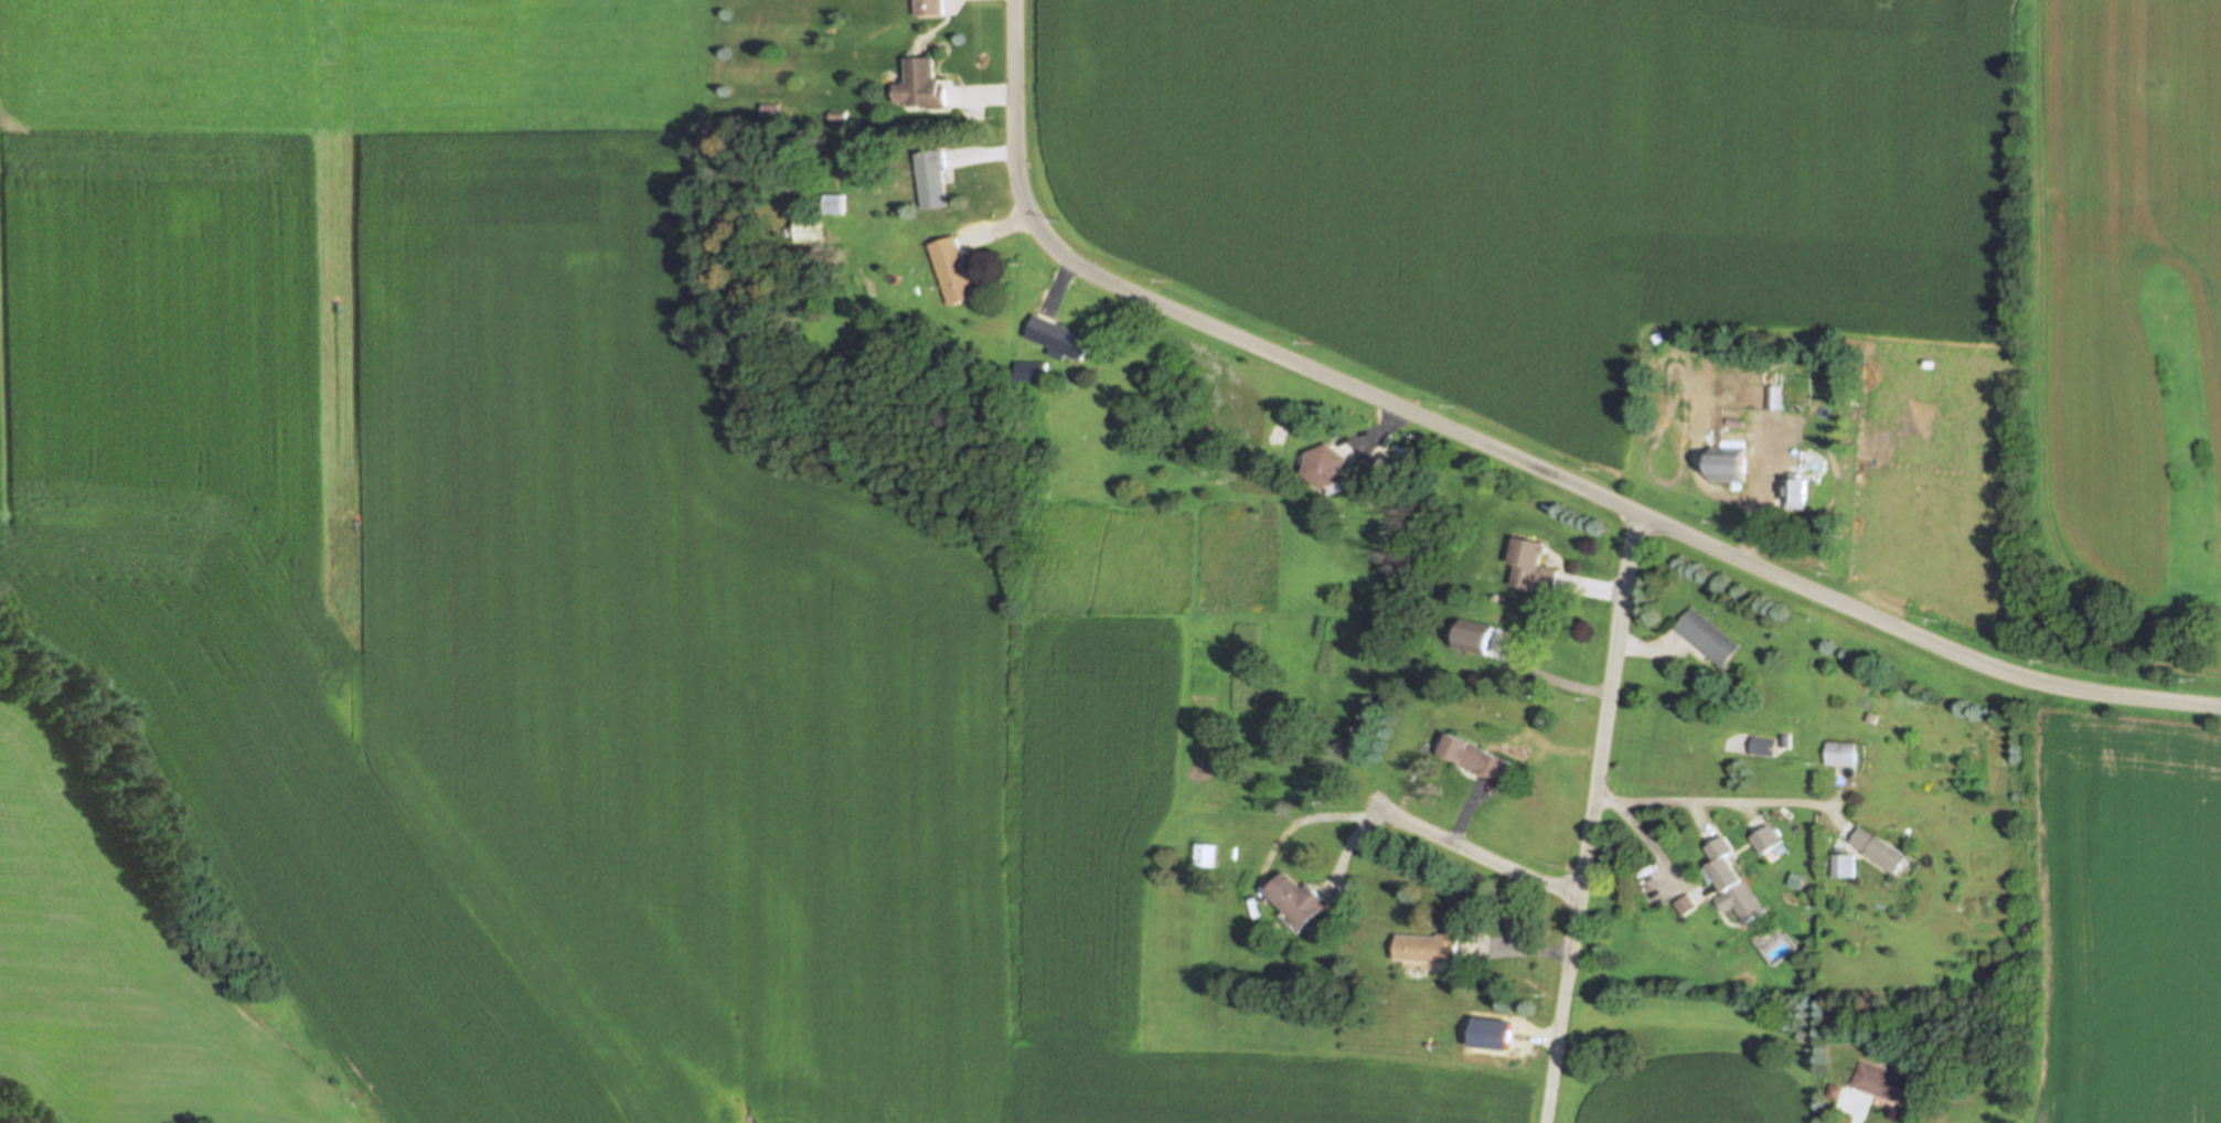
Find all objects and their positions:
building: (928, 8)
building: (921, 84)
building: (770, 111)
building: (837, 115)
building: (932, 177)
building: (834, 204)
building: (808, 231)
building: (954, 270)
building: (1060, 338)
building: (1026, 372)
road: (3, 383)
building: (1773, 398)
road: (1508, 458)
building: (1726, 464)
building: (1327, 467)
building: (1390, 469)
road: (1762, 490)
building: (1797, 491)
building: (1534, 567)
building: (1708, 639)
building: (1763, 746)
building: (1841, 753)
building: (1475, 757)
road: (1710, 803)
road: (1590, 819)
building: (1769, 841)
road: (1474, 851)
building: (1881, 852)
building: (1205, 855)
building: (1844, 867)
building: (1732, 879)
building: (1796, 881)
building: (1301, 901)
building: (1431, 949)
building: (1884, 1084)
road: (1859, 1111)

